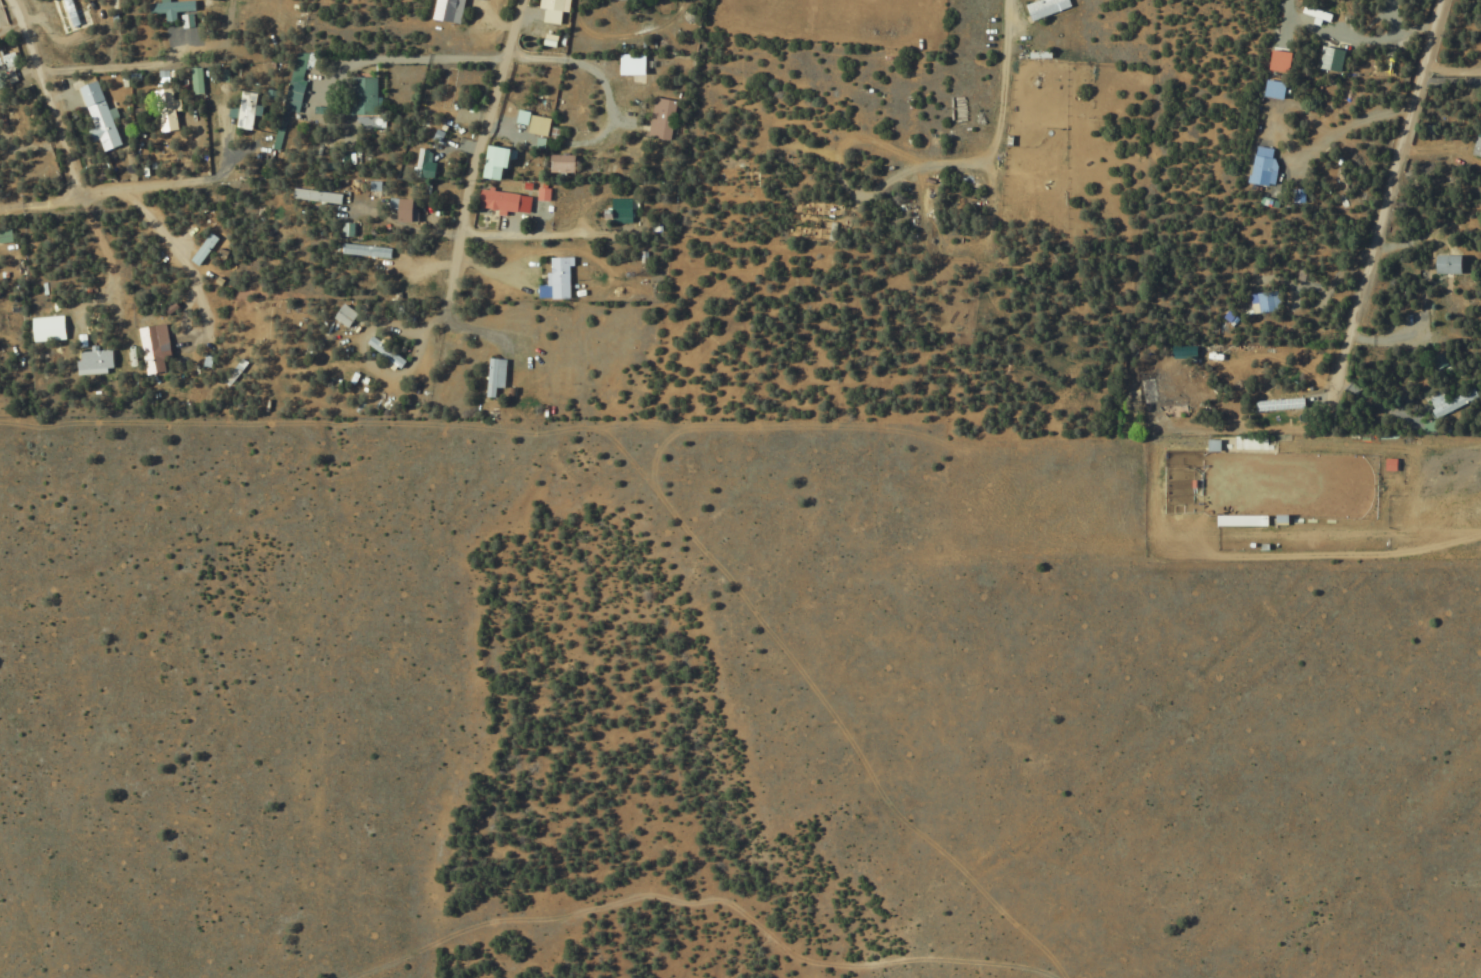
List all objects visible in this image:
building: (173, 8)
building: (1047, 8)
building: (448, 10)
building: (553, 10)
building: (1314, 13)
building: (69, 15)
road: (9, 28)
building: (7, 58)
road: (500, 61)
building: (1274, 61)
road: (145, 64)
building: (635, 64)
building: (11, 75)
building: (197, 80)
road: (1000, 82)
building: (1270, 89)
building: (367, 95)
road: (45, 99)
building: (167, 110)
building: (247, 110)
building: (101, 116)
building: (664, 118)
building: (541, 125)
building: (1475, 146)
road: (472, 156)
building: (500, 161)
building: (422, 163)
building: (564, 163)
building: (1259, 170)
building: (319, 196)
road: (1384, 197)
road: (83, 198)
building: (502, 200)
building: (409, 210)
building: (622, 210)
building: (6, 235)
building: (206, 248)
building: (1441, 265)
building: (374, 270)
building: (562, 277)
building: (1262, 302)
building: (346, 315)
building: (50, 328)
building: (157, 347)
building: (97, 359)
building: (497, 377)
building: (1159, 390)
building: (1446, 402)
building: (1276, 404)
building: (1386, 465)
park: (1287, 486)
building: (1178, 489)

